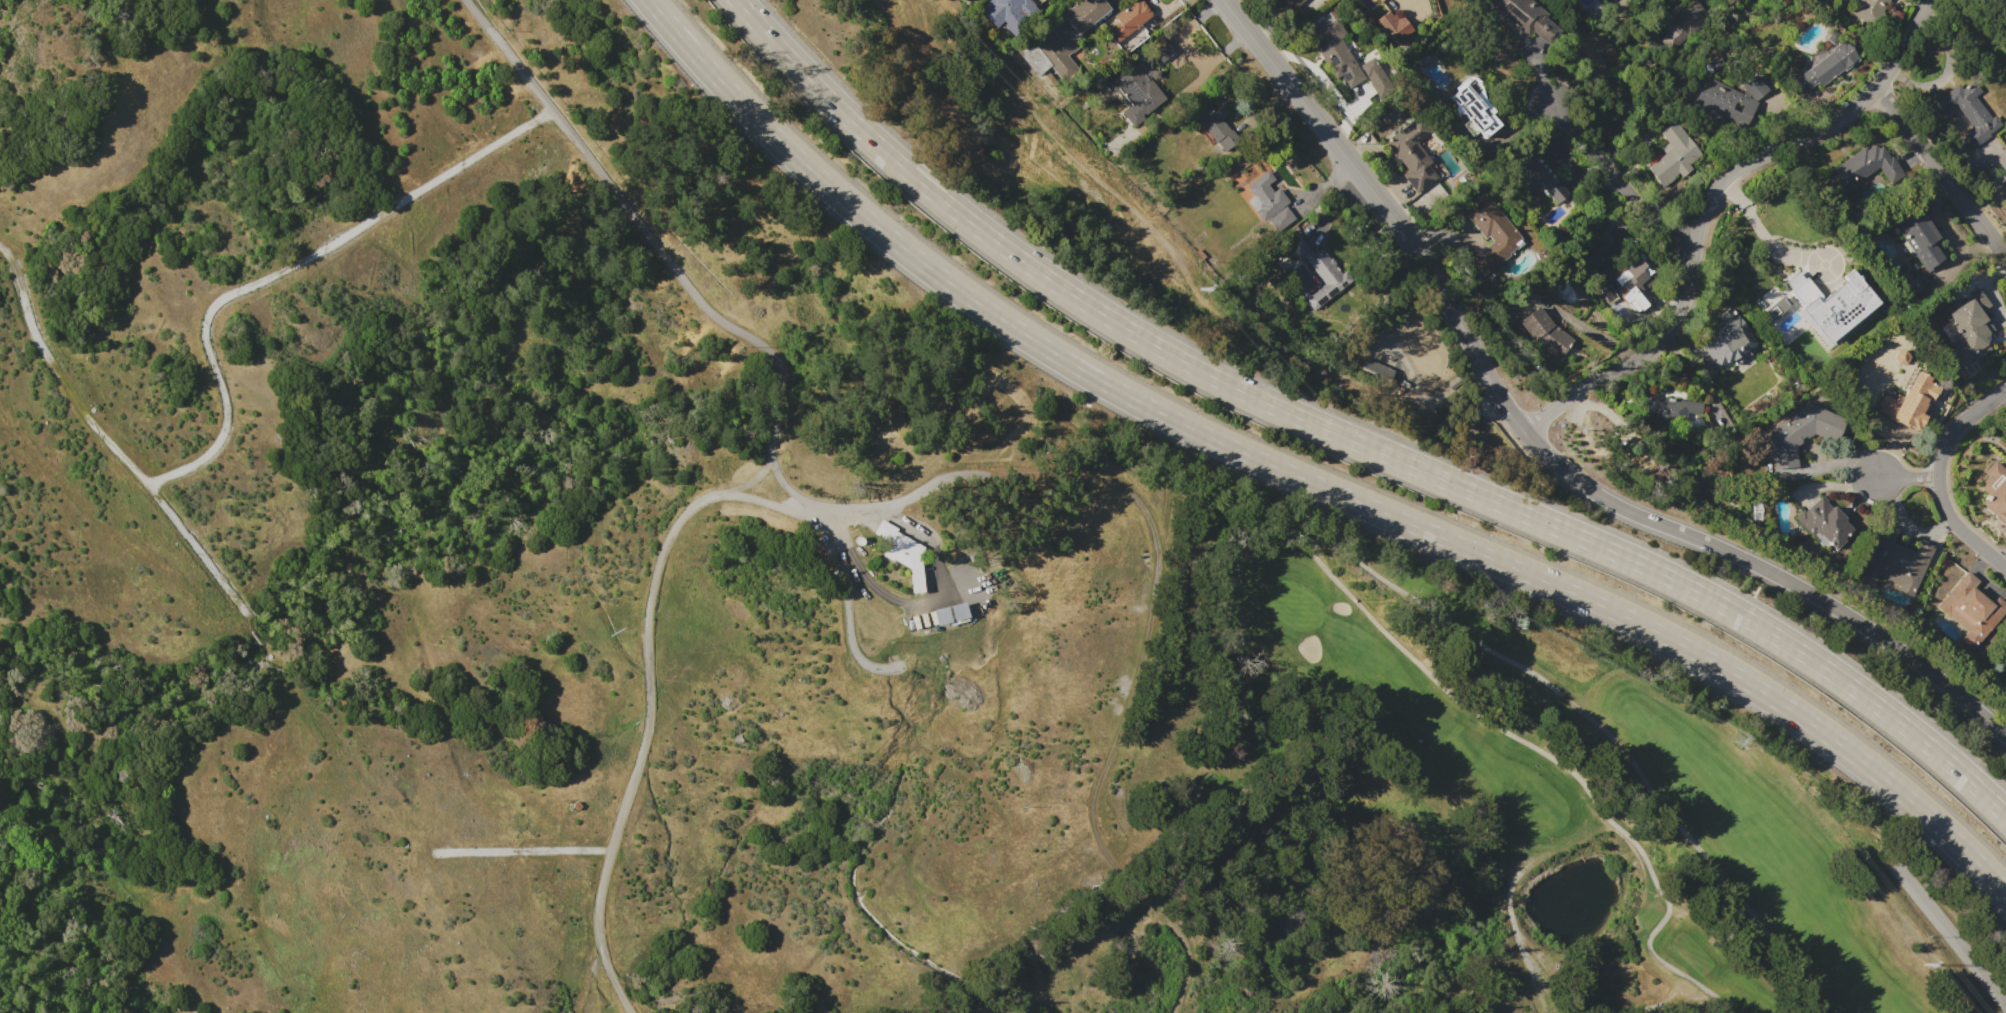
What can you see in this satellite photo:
building: (1378, 0)
building: (1380, 0)
building: (1292, 3)
building: (1015, 8)
building: (1870, 11)
building: (1525, 18)
building: (1681, 23)
building: (1132, 25)
building: (1393, 26)
building: (1073, 36)
building: (1832, 36)
building: (1336, 52)
building: (1826, 66)
building: (1374, 76)
building: (1142, 81)
building: (1729, 100)
building: (1474, 105)
building: (1967, 112)
building: (1213, 123)
building: (1412, 154)
building: (1673, 155)
building: (1867, 167)
road: (1940, 174)
building: (1543, 179)
road: (1613, 181)
building: (1267, 198)
road: (1705, 204)
road: (1382, 207)
building: (1278, 218)
building: (1490, 233)
road: (1763, 236)
building: (1921, 239)
road: (673, 263)
road: (284, 267)
building: (1317, 272)
building: (1633, 285)
power tower: (1198, 288)
building: (1829, 304)
building: (1776, 306)
building: (1970, 327)
building: (1552, 337)
building: (1726, 342)
building: (1375, 369)
building: (1394, 377)
building: (1909, 402)
building: (1668, 404)
road: (1958, 423)
building: (1800, 433)
road: (1349, 439)
road: (107, 441)
road: (1905, 477)
road: (1305, 479)
road: (928, 490)
building: (1994, 491)
road: (765, 493)
building: (1824, 521)
road: (1962, 528)
building: (901, 551)
building: (1896, 561)
road: (1767, 571)
road: (942, 592)
park: (1293, 605)
building: (1970, 609)
building: (957, 611)
building: (940, 616)
road: (848, 620)
power tower: (1513, 622)
road: (1466, 638)
road: (1125, 690)
road: (648, 716)
power tower: (1737, 740)
park: (1576, 795)
building: (575, 805)
road: (525, 849)
road: (1671, 900)
road: (1949, 938)
power tower: (1922, 964)

